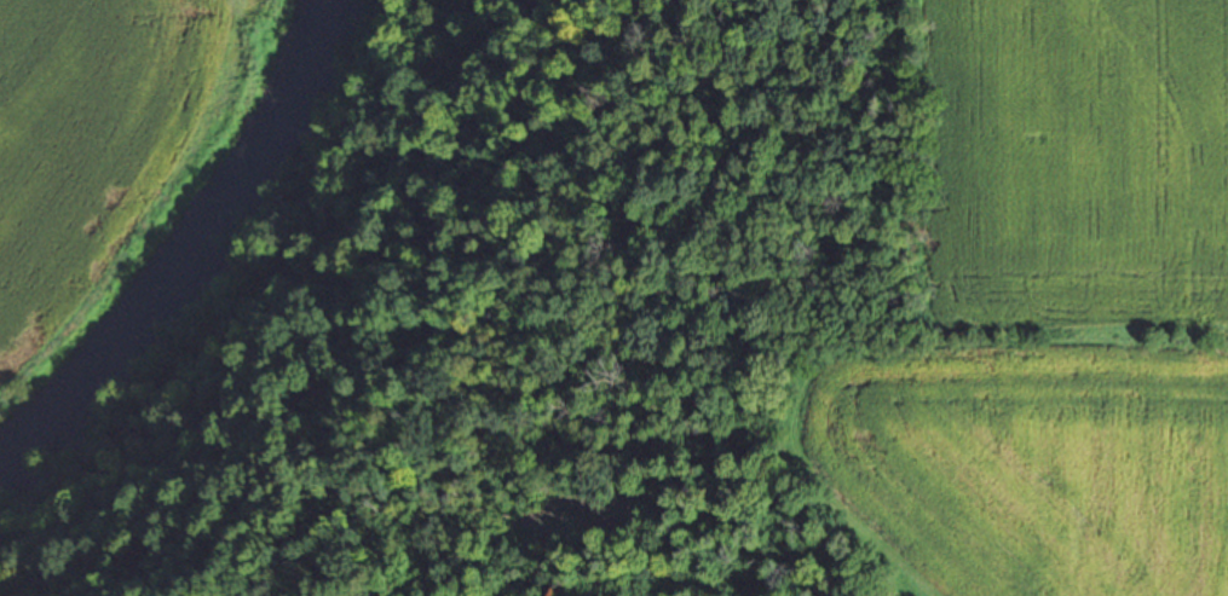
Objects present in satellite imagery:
river: (181, 253)

